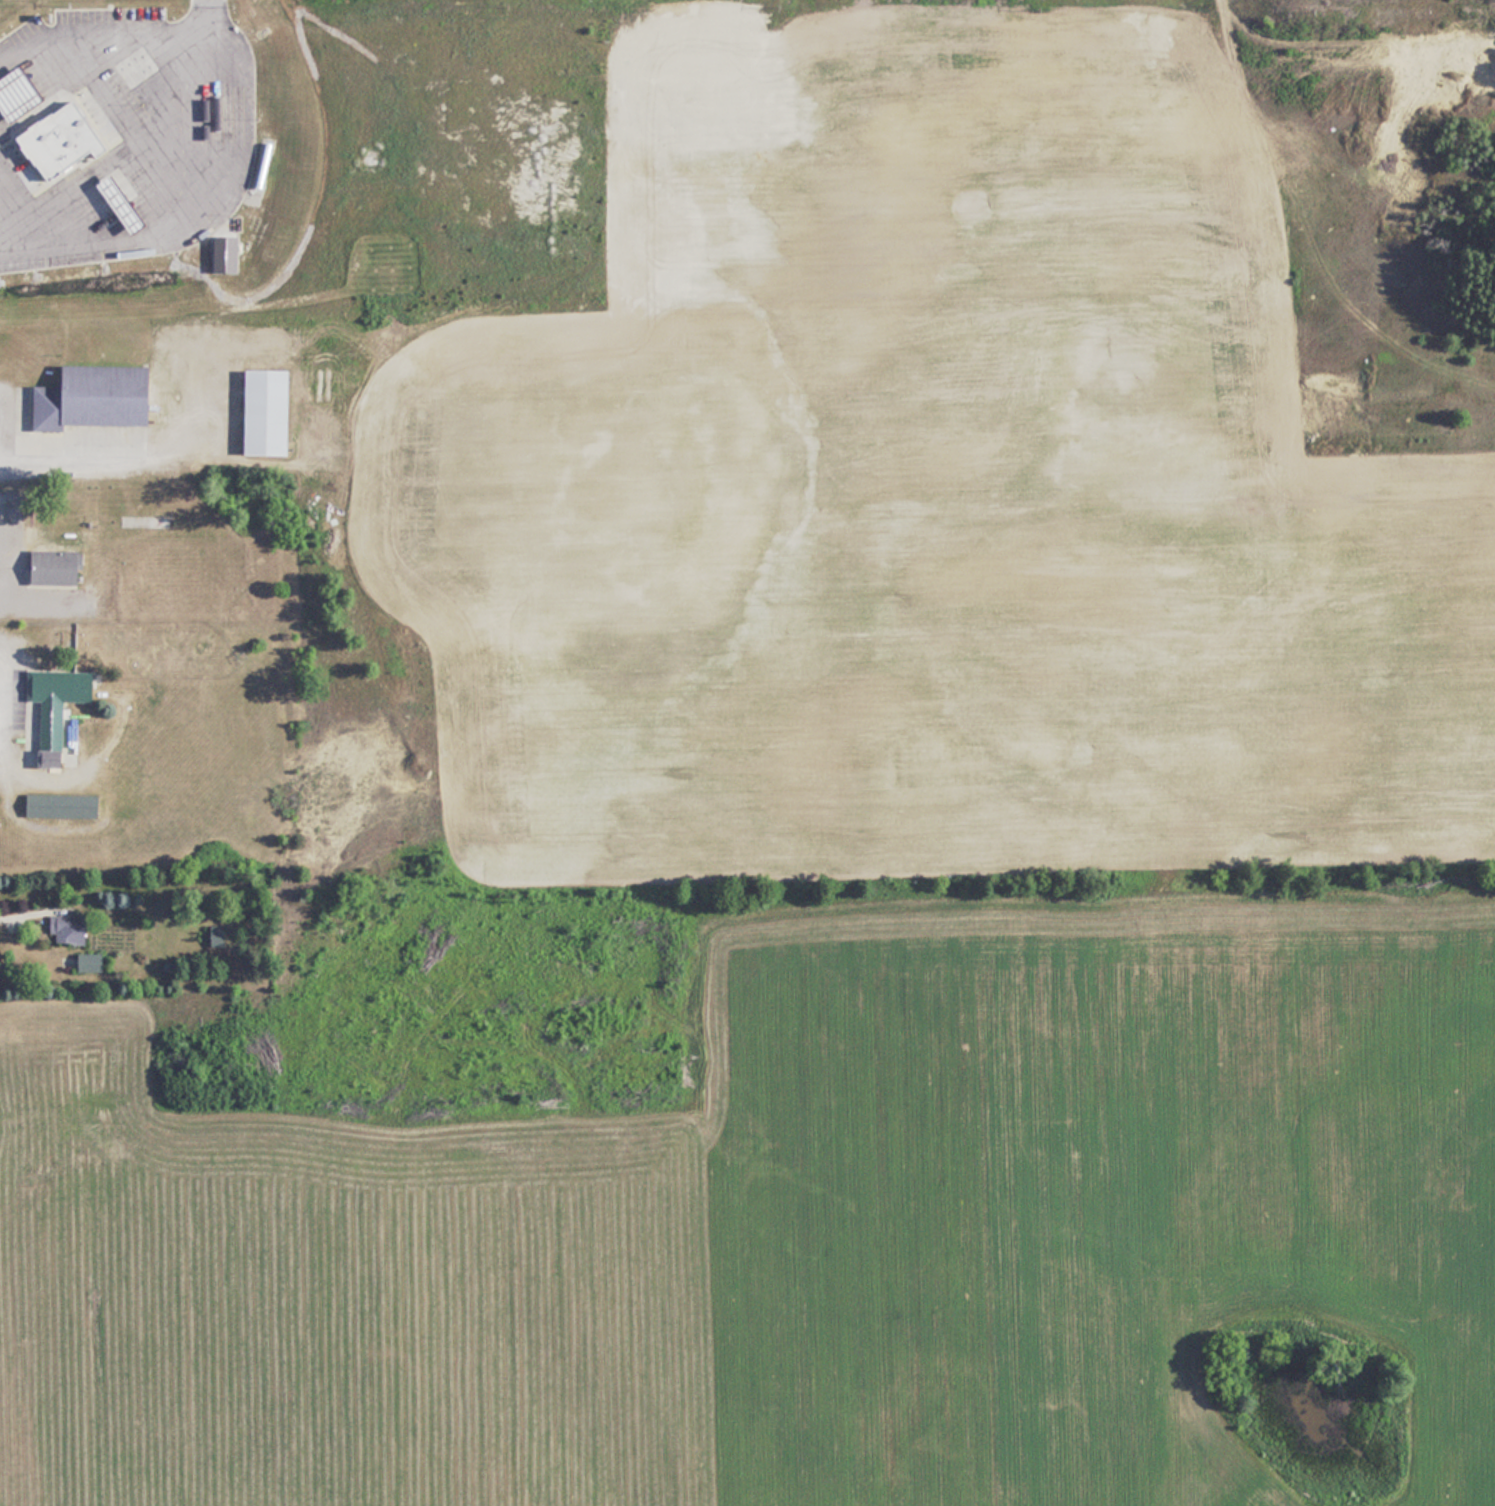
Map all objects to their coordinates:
building: (374, 76)
building: (17, 91)
building: (218, 123)
road: (129, 132)
building: (59, 137)
building: (346, 163)
building: (272, 173)
building: (120, 201)
building: (99, 398)
building: (269, 413)
road: (92, 459)
building: (59, 567)
building: (57, 709)
road: (29, 774)
building: (62, 805)
road: (23, 908)
building: (71, 929)

